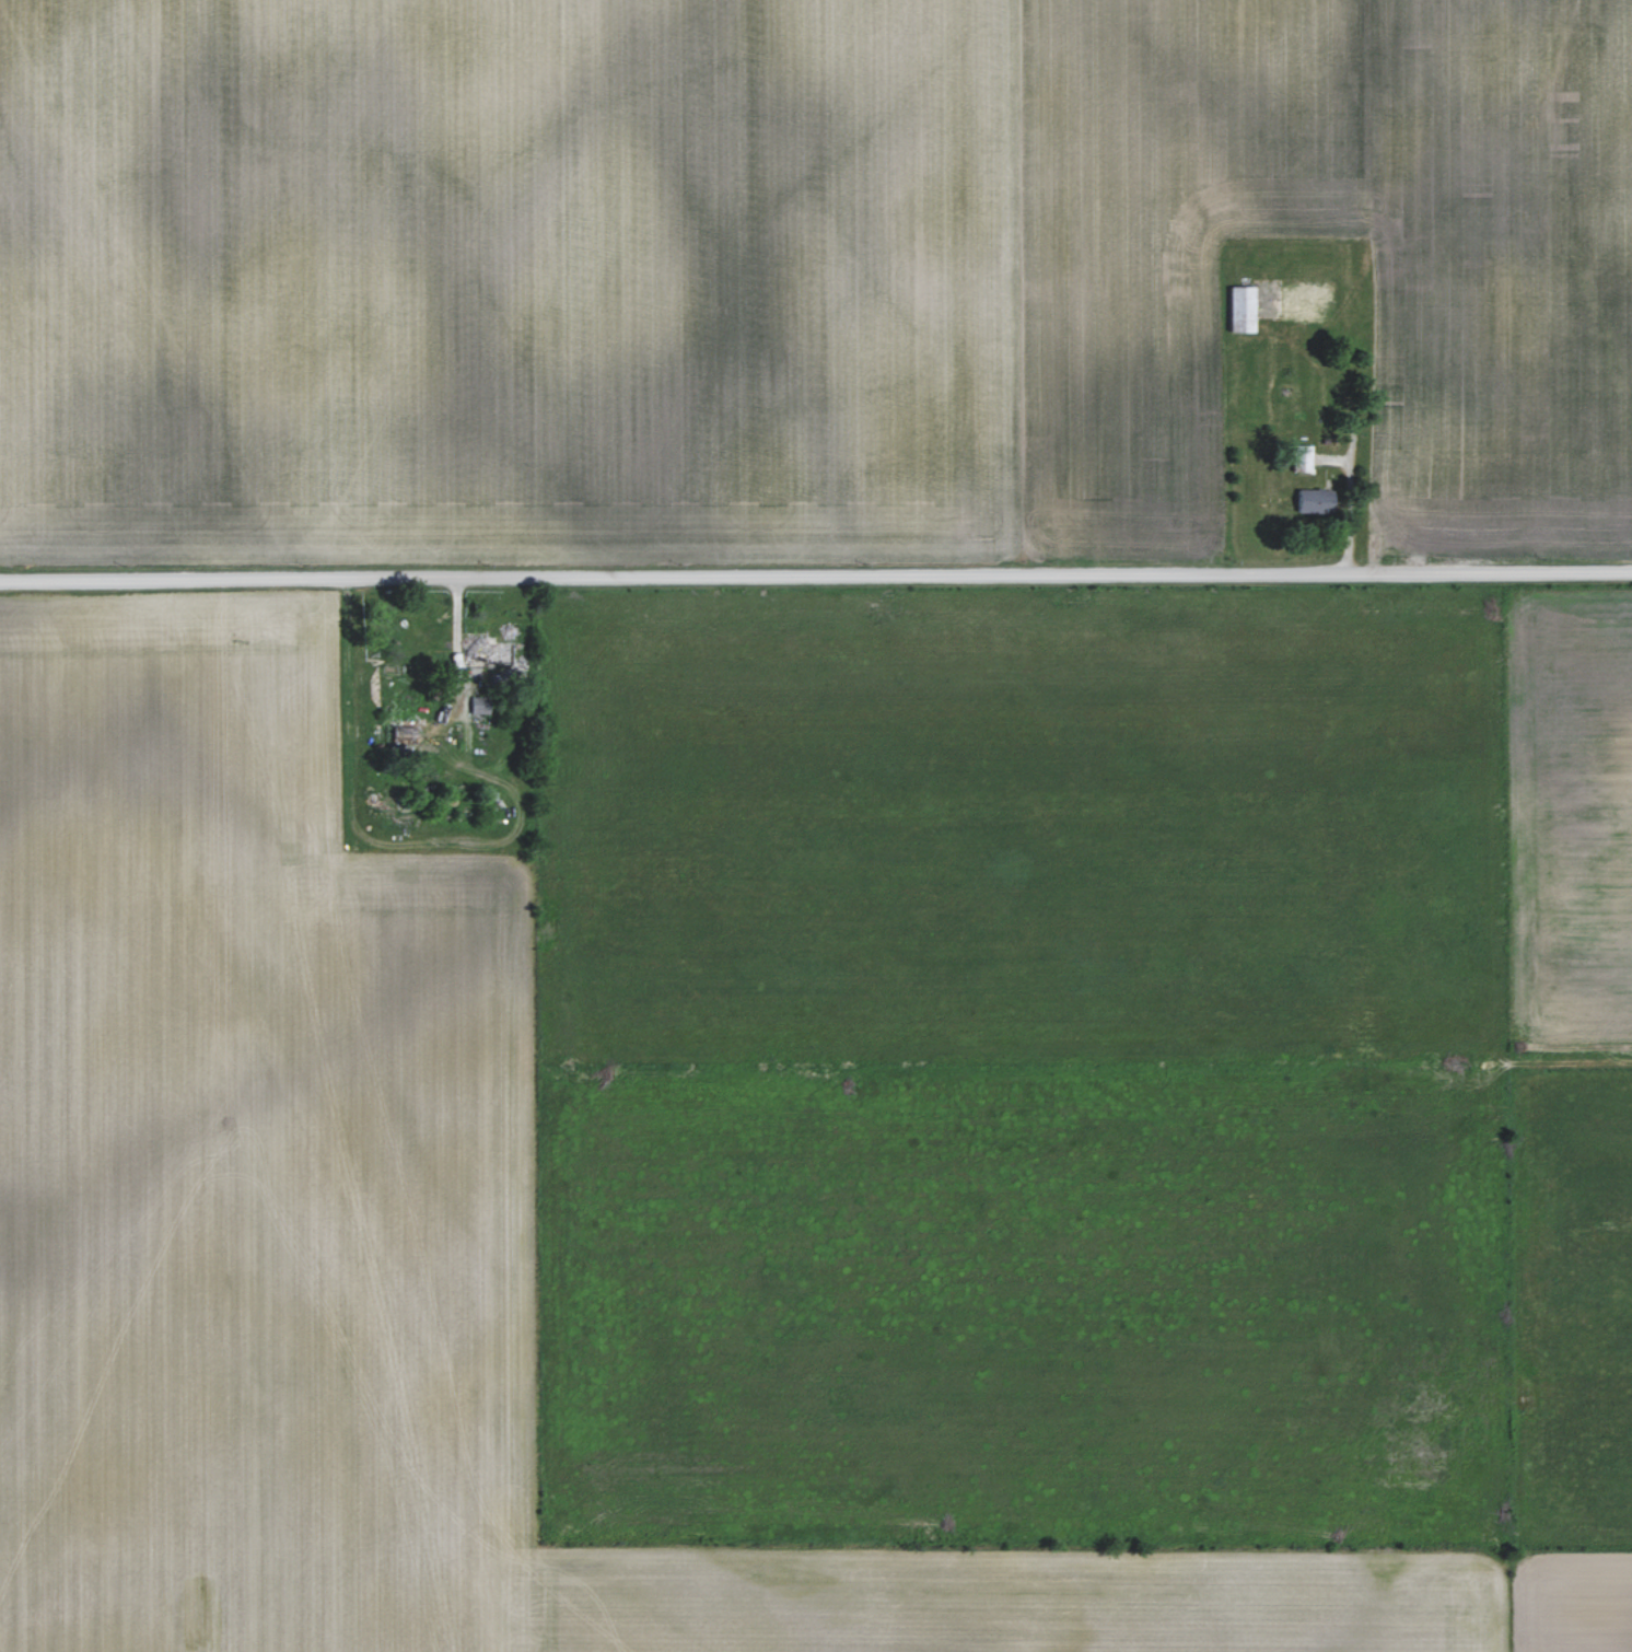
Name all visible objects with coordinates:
building: (1245, 309)
building: (1318, 500)
road: (815, 578)

